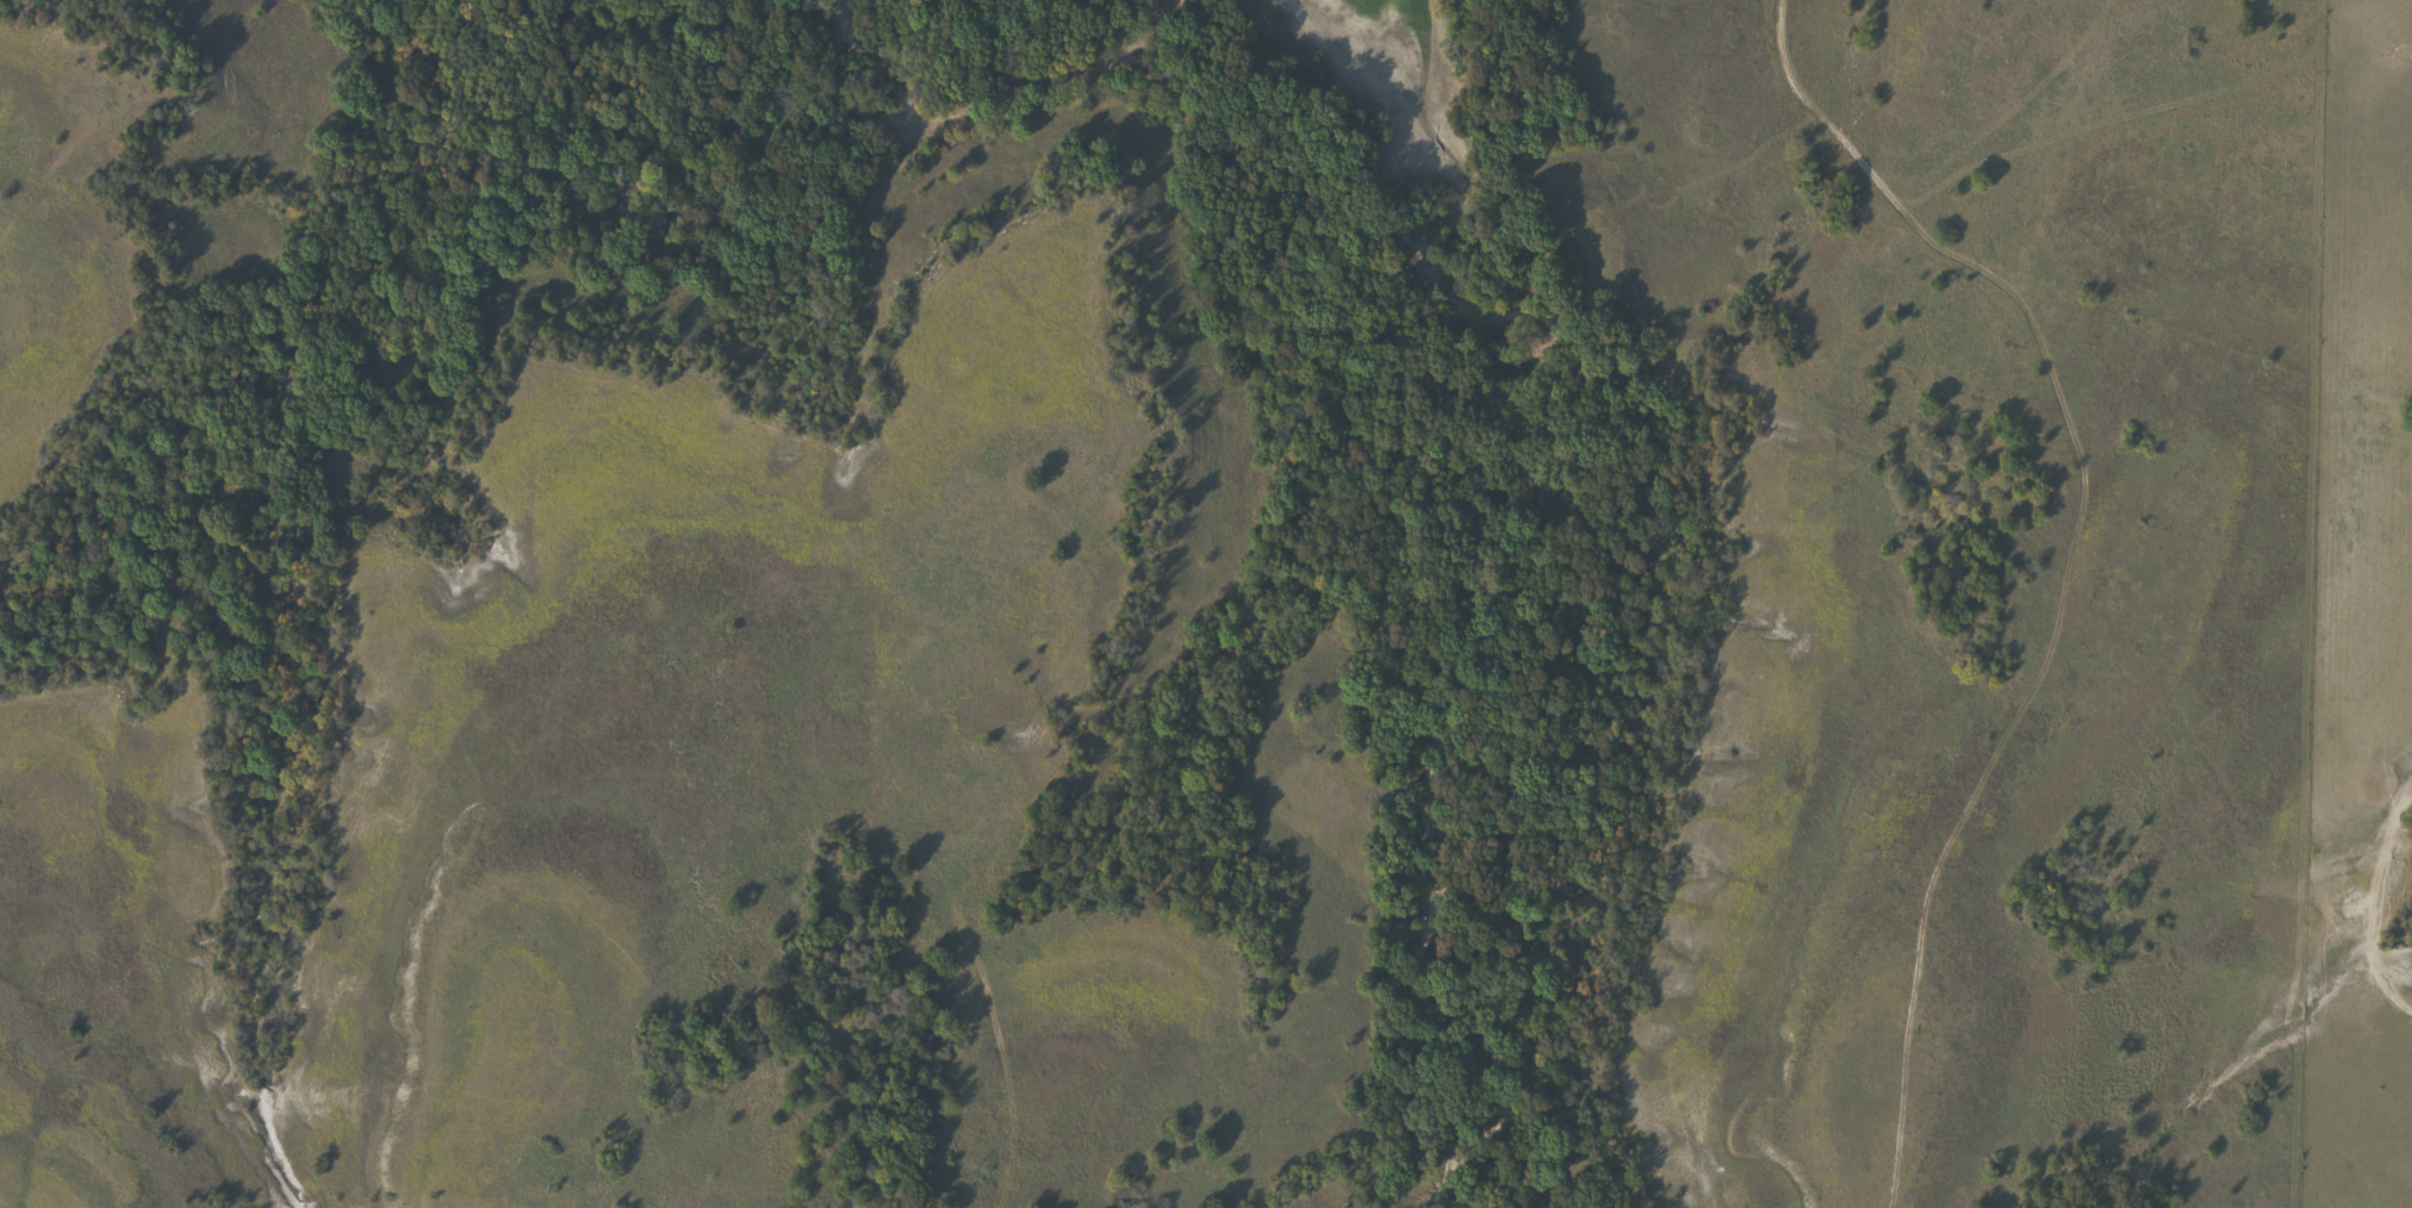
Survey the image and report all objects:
road: (2383, 910)

